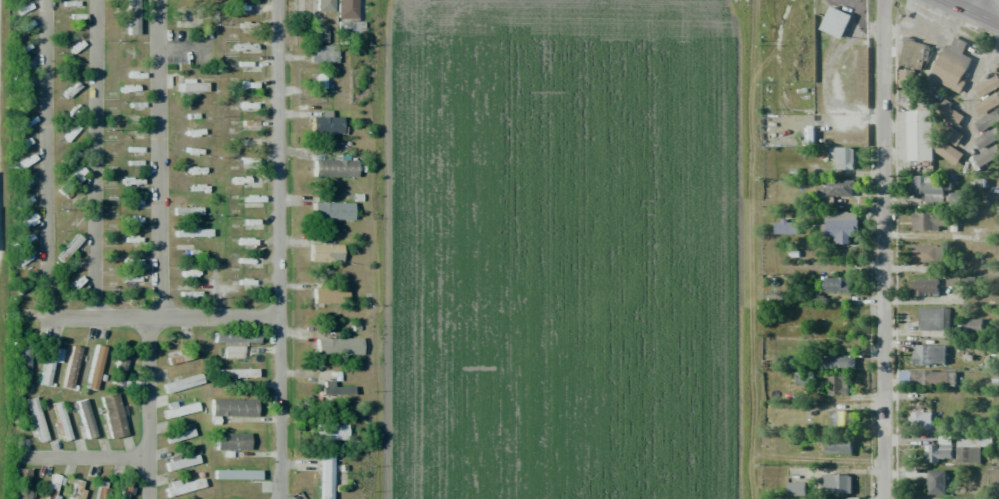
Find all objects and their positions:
building: (324, 5)
building: (247, 6)
road: (974, 6)
building: (346, 9)
road: (972, 12)
building: (132, 17)
building: (836, 22)
building: (322, 30)
building: (323, 54)
building: (913, 54)
building: (952, 65)
building: (907, 83)
building: (191, 86)
building: (988, 86)
building: (987, 104)
building: (949, 113)
building: (328, 124)
building: (987, 130)
building: (924, 135)
building: (952, 135)
building: (948, 152)
building: (987, 155)
building: (843, 157)
road: (95, 159)
road: (156, 159)
building: (26, 161)
building: (334, 168)
building: (77, 174)
building: (837, 188)
building: (929, 188)
building: (187, 211)
building: (331, 211)
building: (926, 220)
building: (785, 226)
building: (841, 227)
building: (192, 233)
building: (69, 248)
road: (278, 249)
road: (882, 249)
crop: (563, 250)
building: (324, 253)
building: (928, 253)
road: (45, 274)
building: (837, 284)
building: (925, 286)
building: (329, 295)
building: (972, 326)
building: (235, 337)
building: (337, 347)
building: (233, 352)
building: (929, 354)
building: (173, 359)
building: (839, 361)
building: (48, 363)
building: (24, 366)
building: (71, 367)
building: (95, 367)
building: (119, 368)
building: (235, 373)
building: (924, 377)
building: (182, 383)
building: (837, 384)
building: (334, 389)
building: (232, 407)
road: (147, 408)
building: (179, 410)
building: (112, 416)
building: (85, 418)
building: (37, 419)
building: (840, 419)
building: (921, 419)
building: (61, 420)
building: (330, 432)
building: (178, 434)
building: (232, 441)
building: (838, 446)
building: (971, 447)
building: (941, 448)
road: (77, 459)
building: (180, 462)
building: (236, 474)
building: (325, 477)
building: (937, 482)
building: (21, 483)
building: (836, 483)
building: (51, 486)
building: (184, 487)
building: (796, 488)
building: (77, 489)
building: (101, 490)
building: (124, 490)

